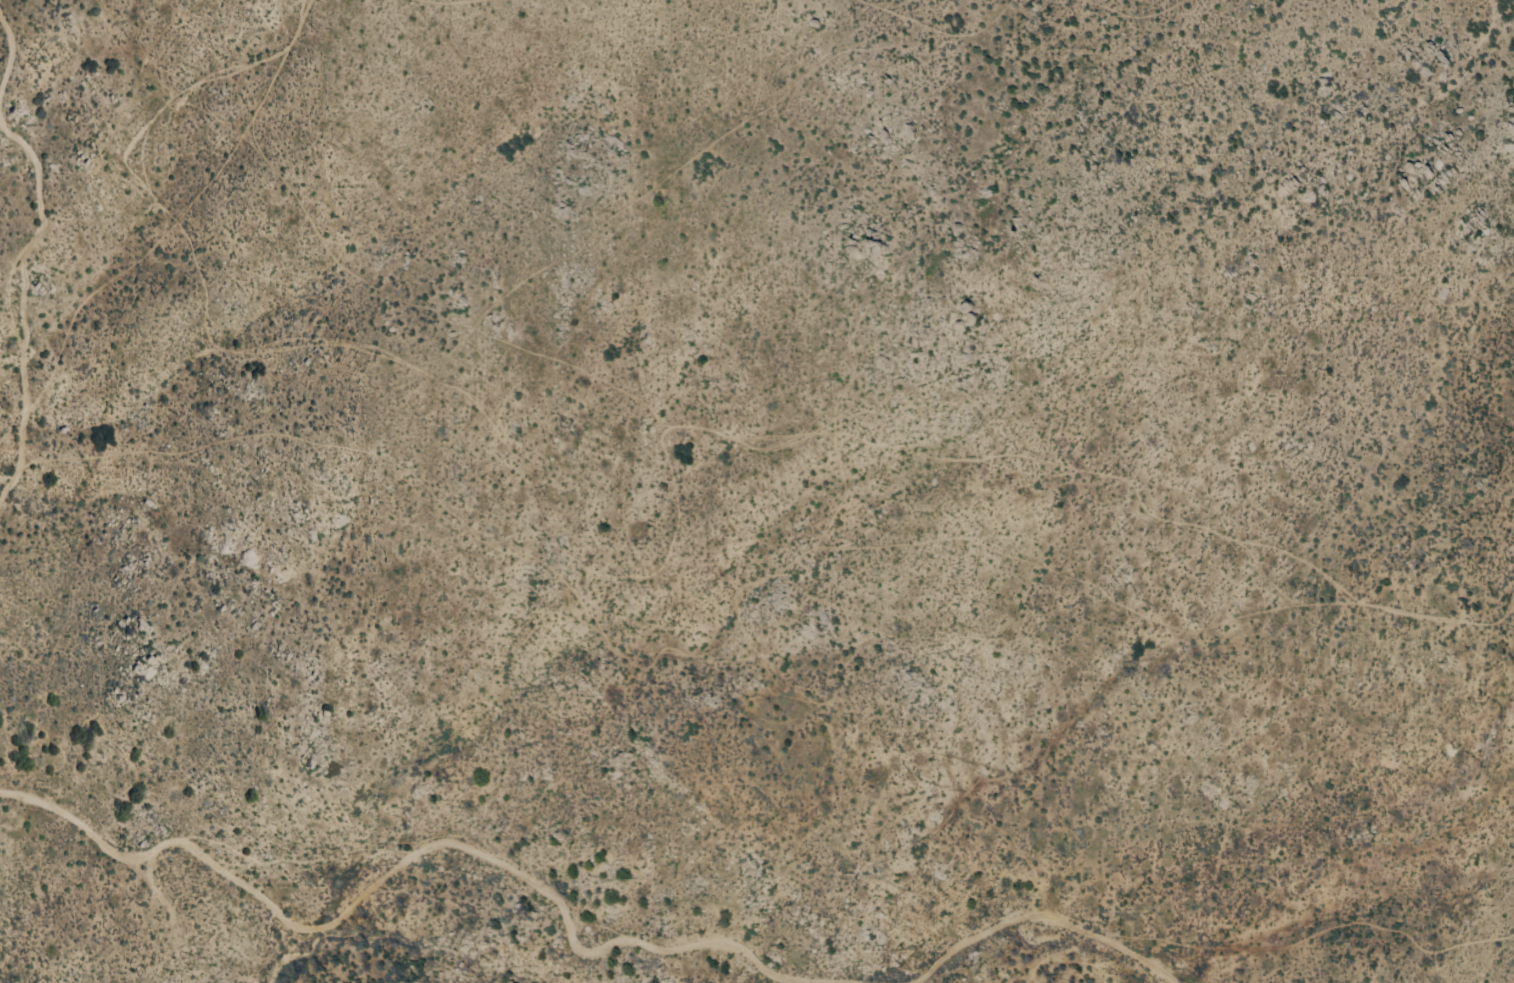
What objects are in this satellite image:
road: (562, 925)

